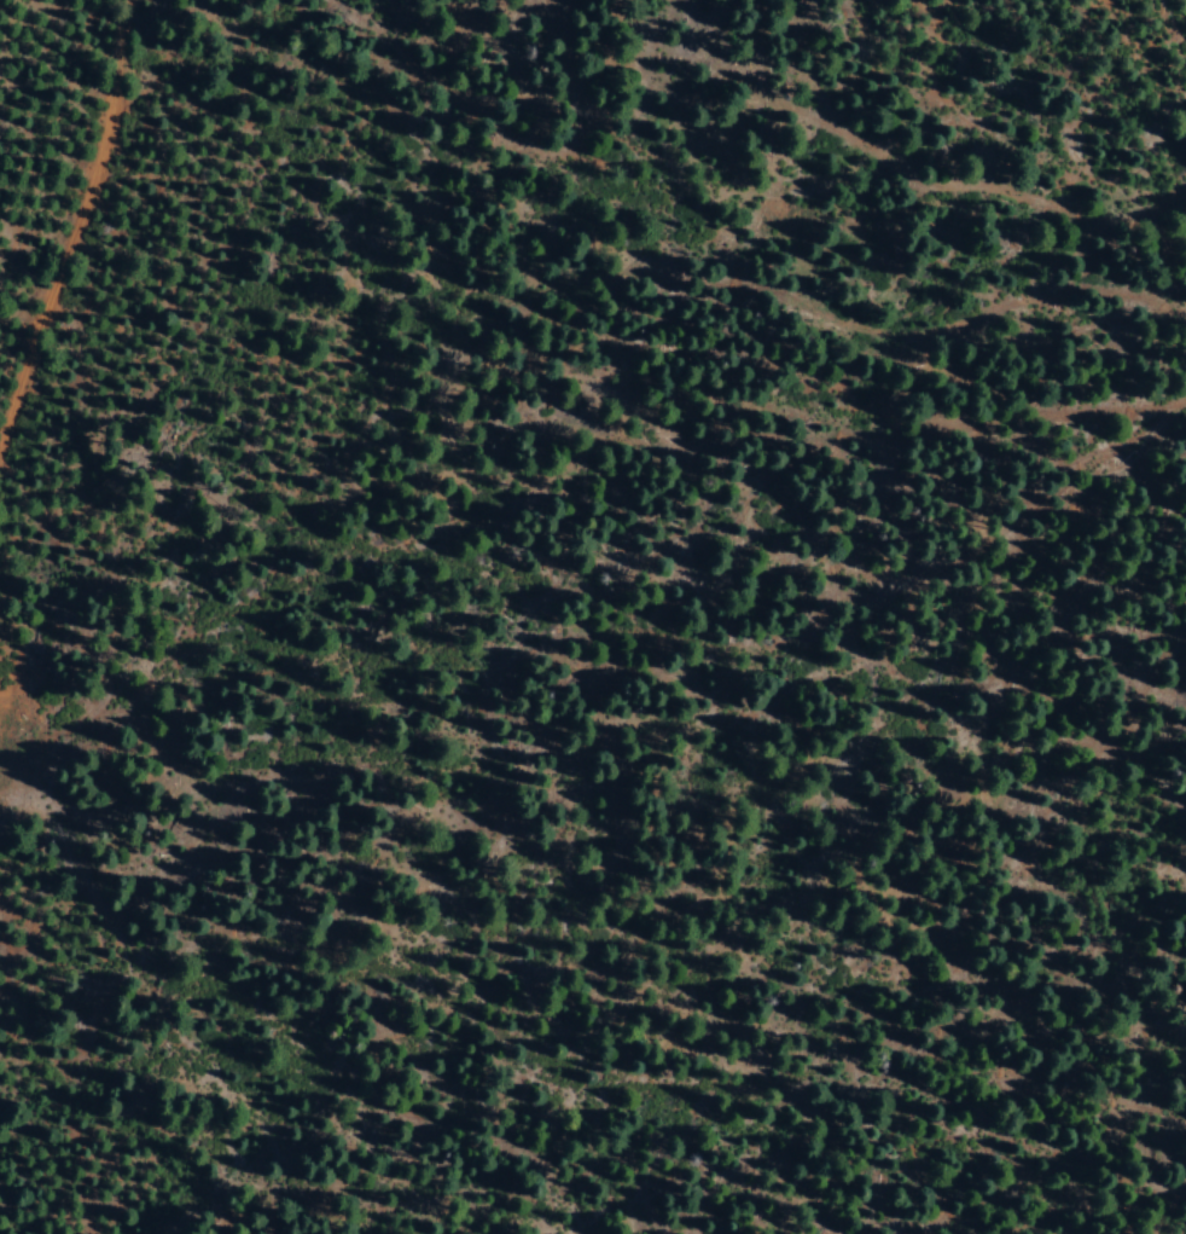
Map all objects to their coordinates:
road: (85, 239)

